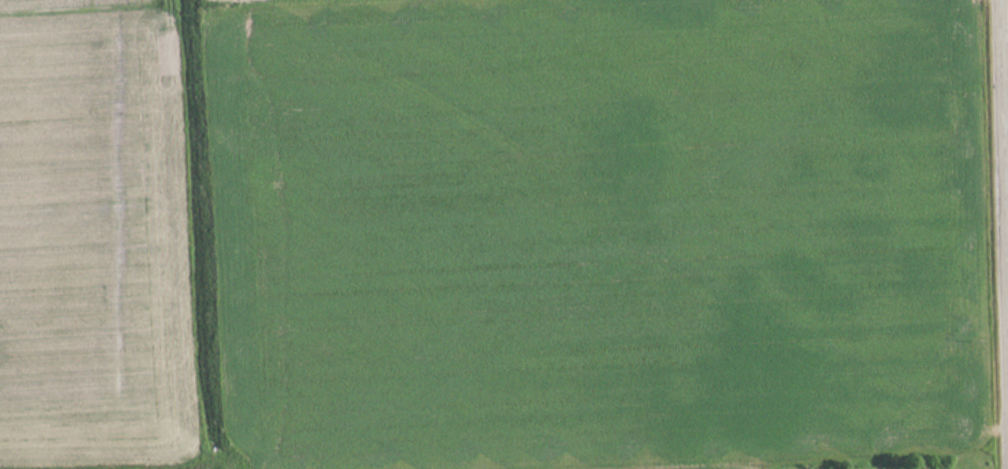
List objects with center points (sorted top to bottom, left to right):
road: (1004, 153)

